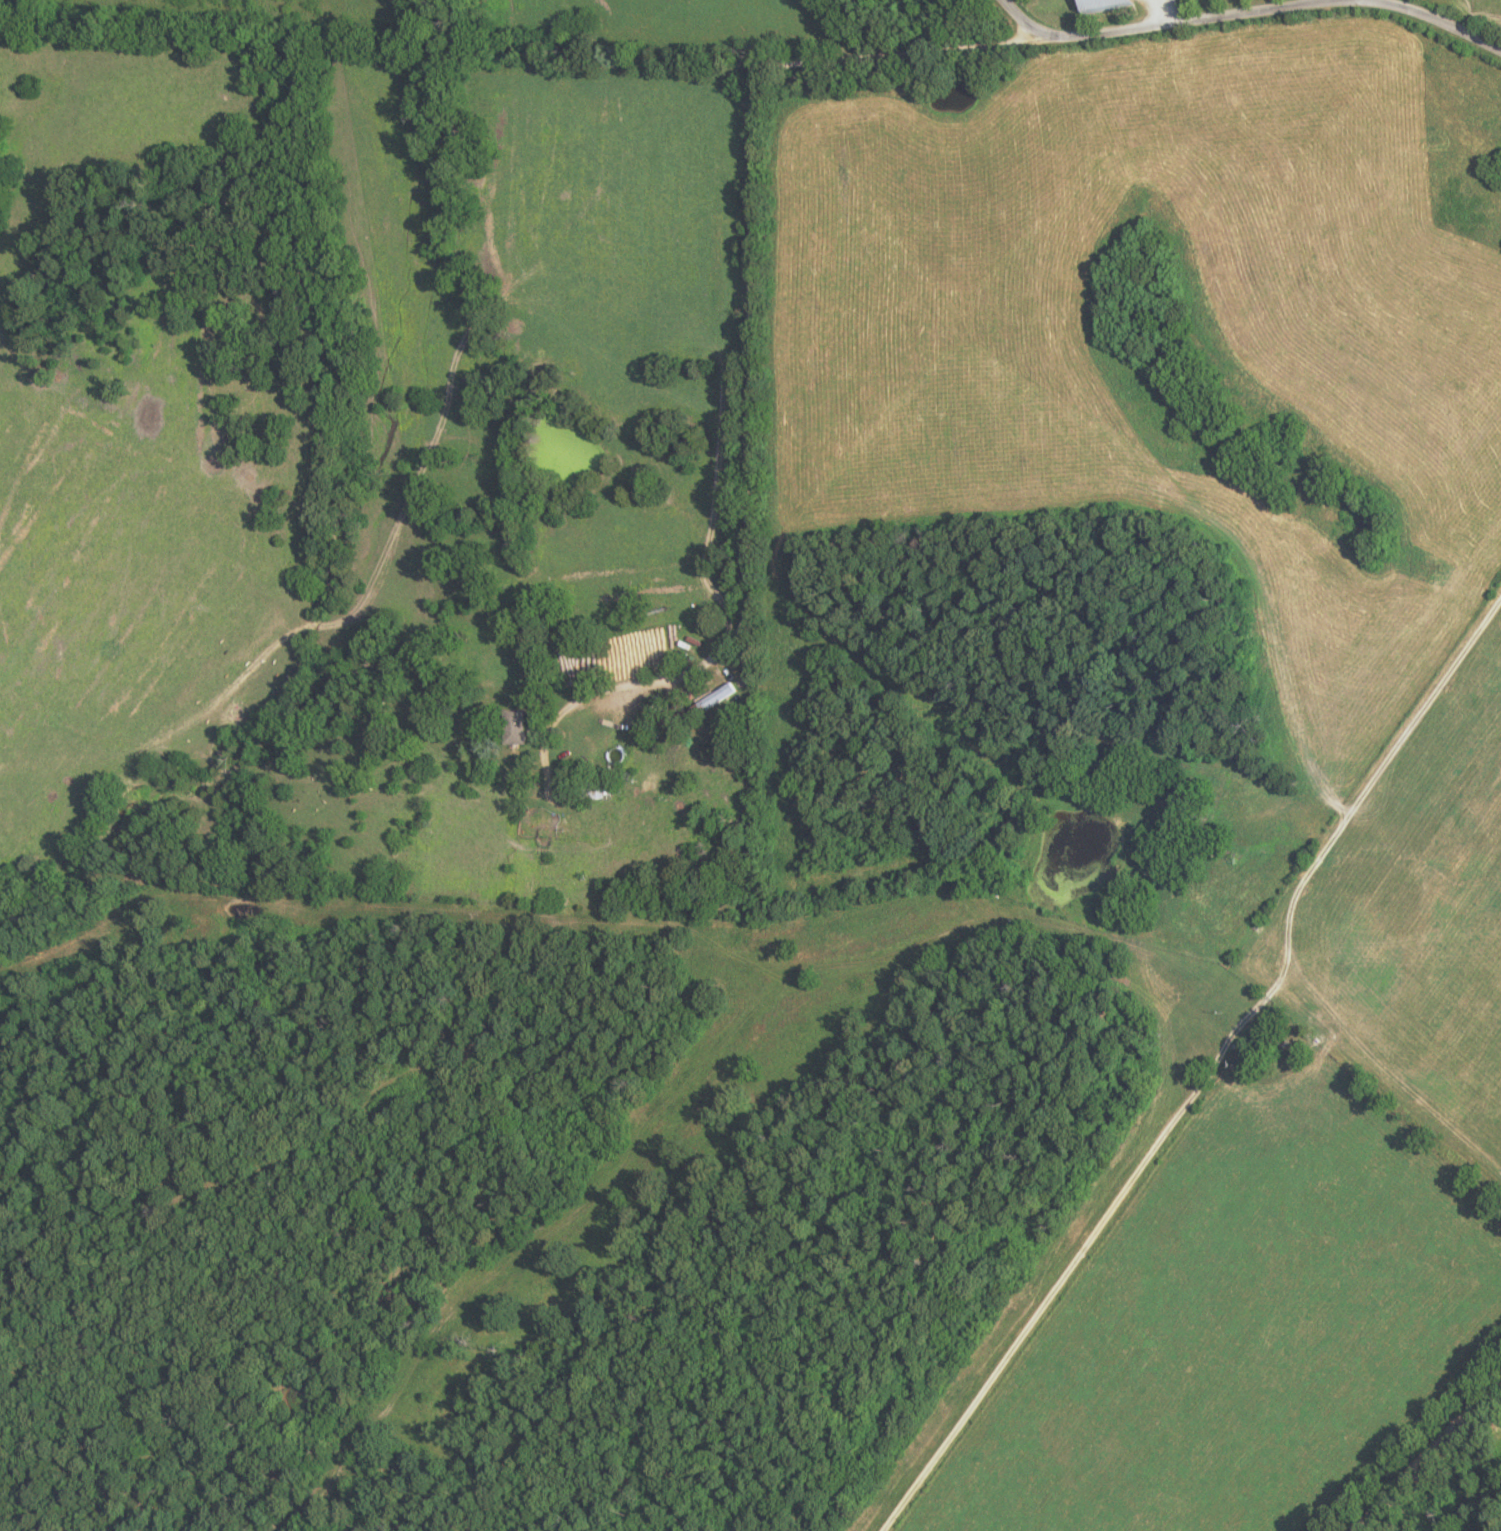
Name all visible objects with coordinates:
road: (1247, 16)
road: (750, 321)
building: (721, 697)
building: (520, 727)
road: (1211, 1070)

